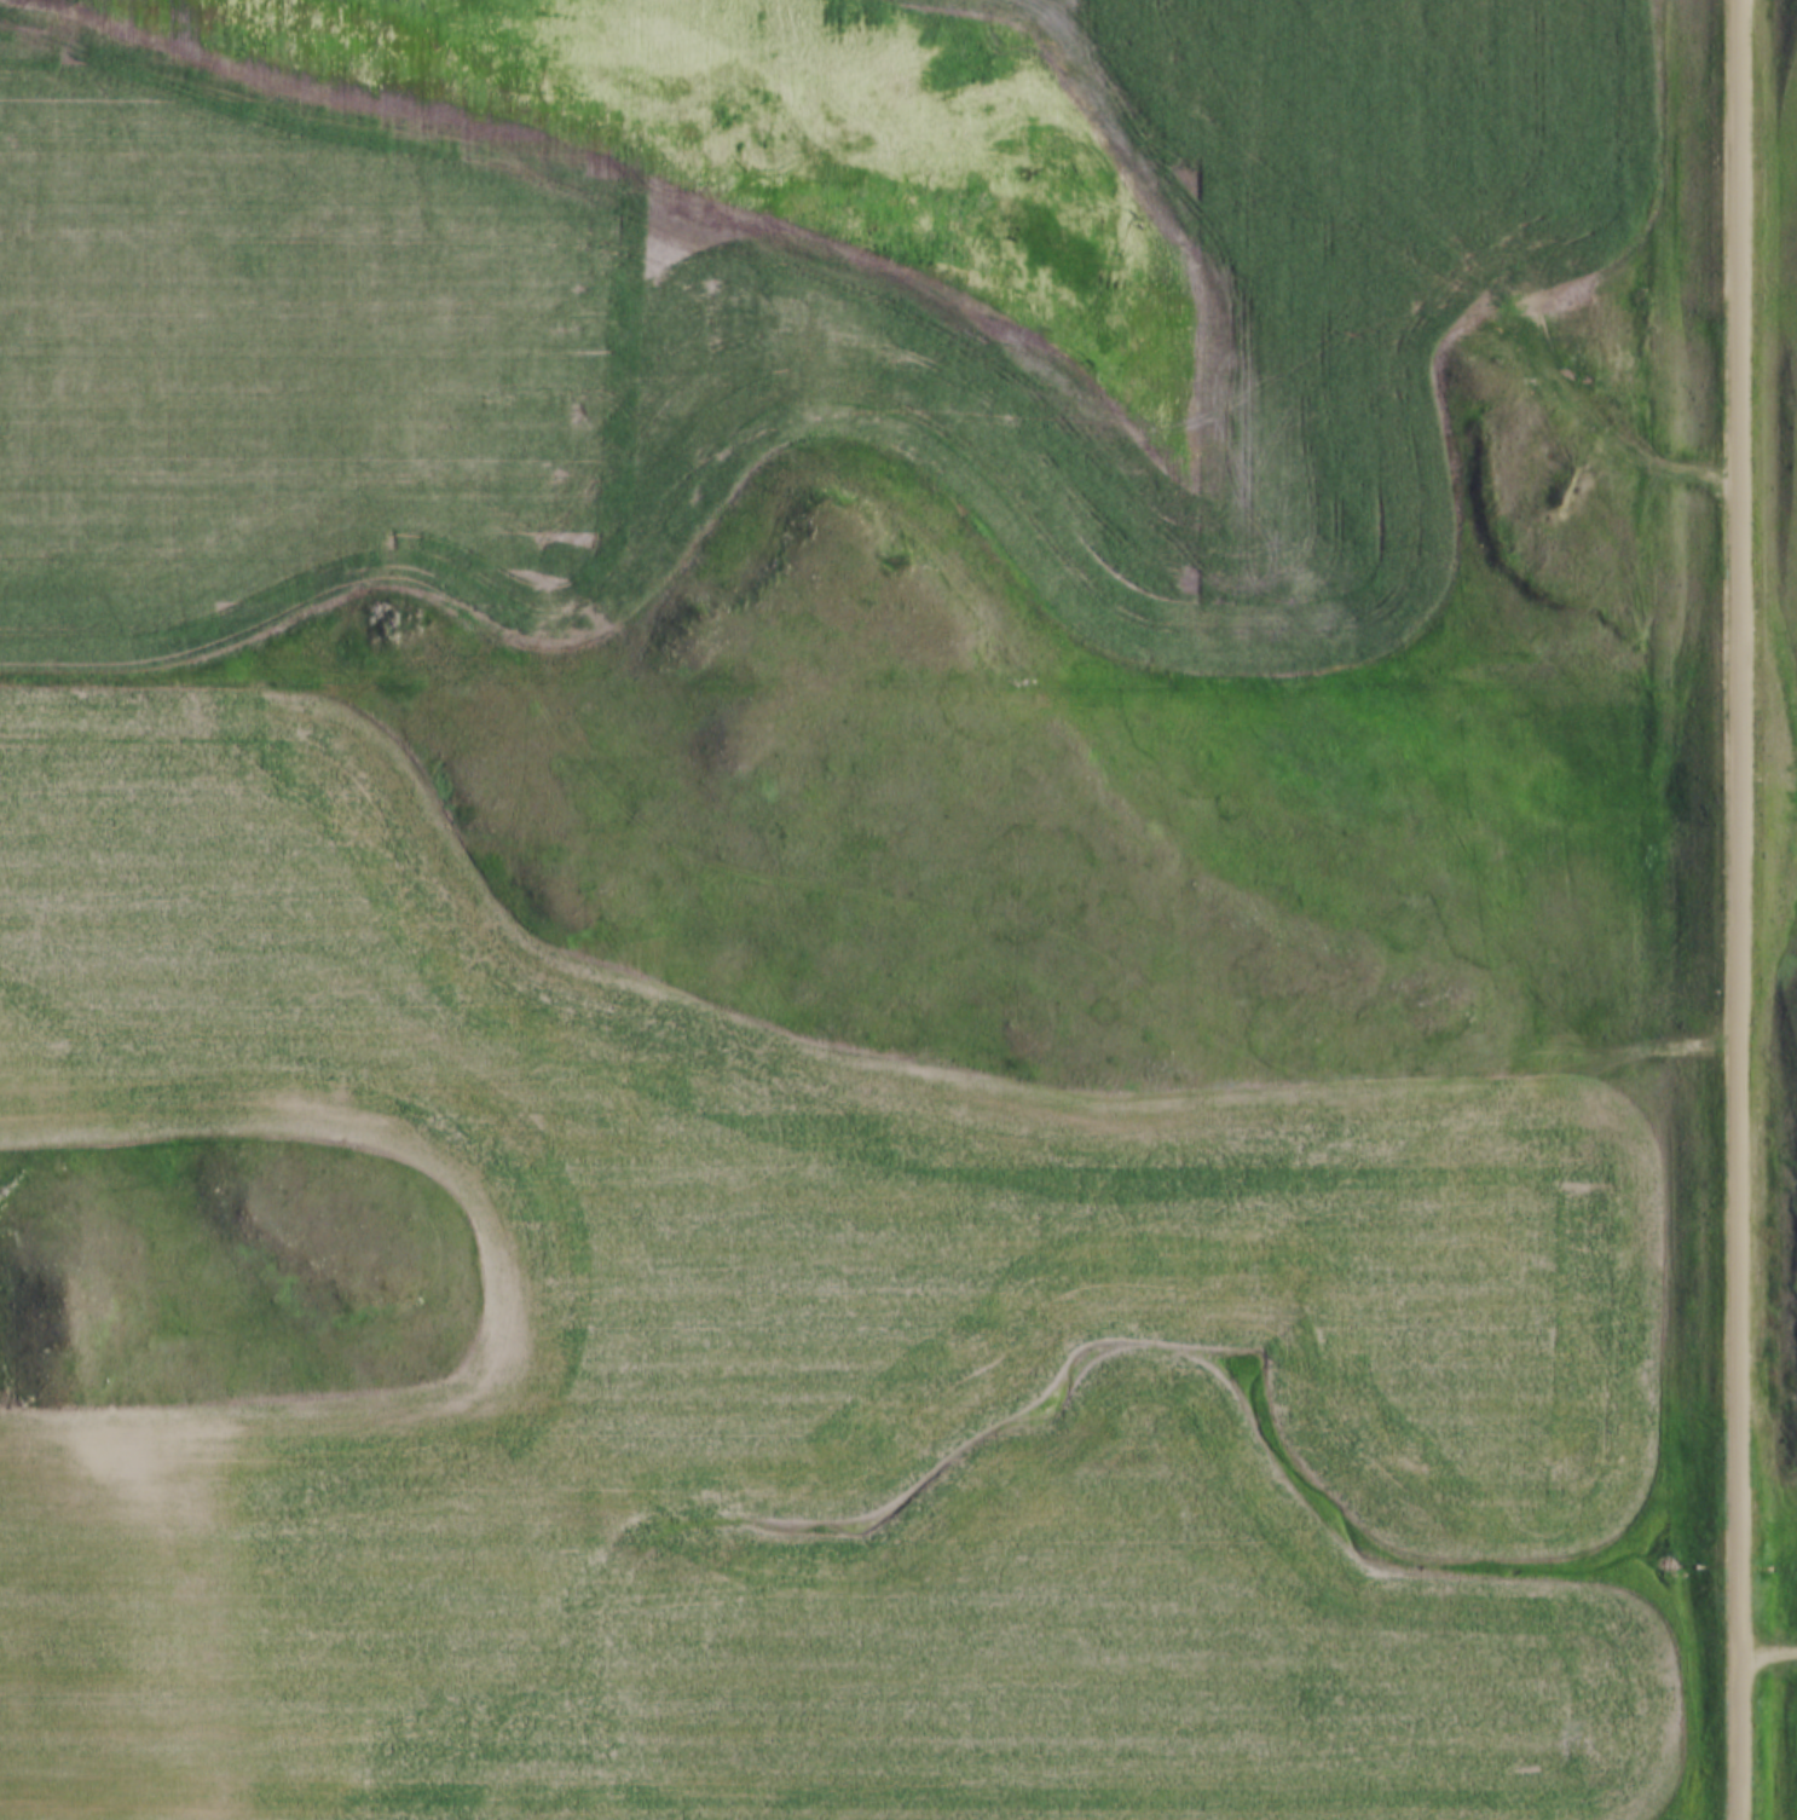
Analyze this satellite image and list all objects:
road: (1743, 909)
road: (1768, 1648)

